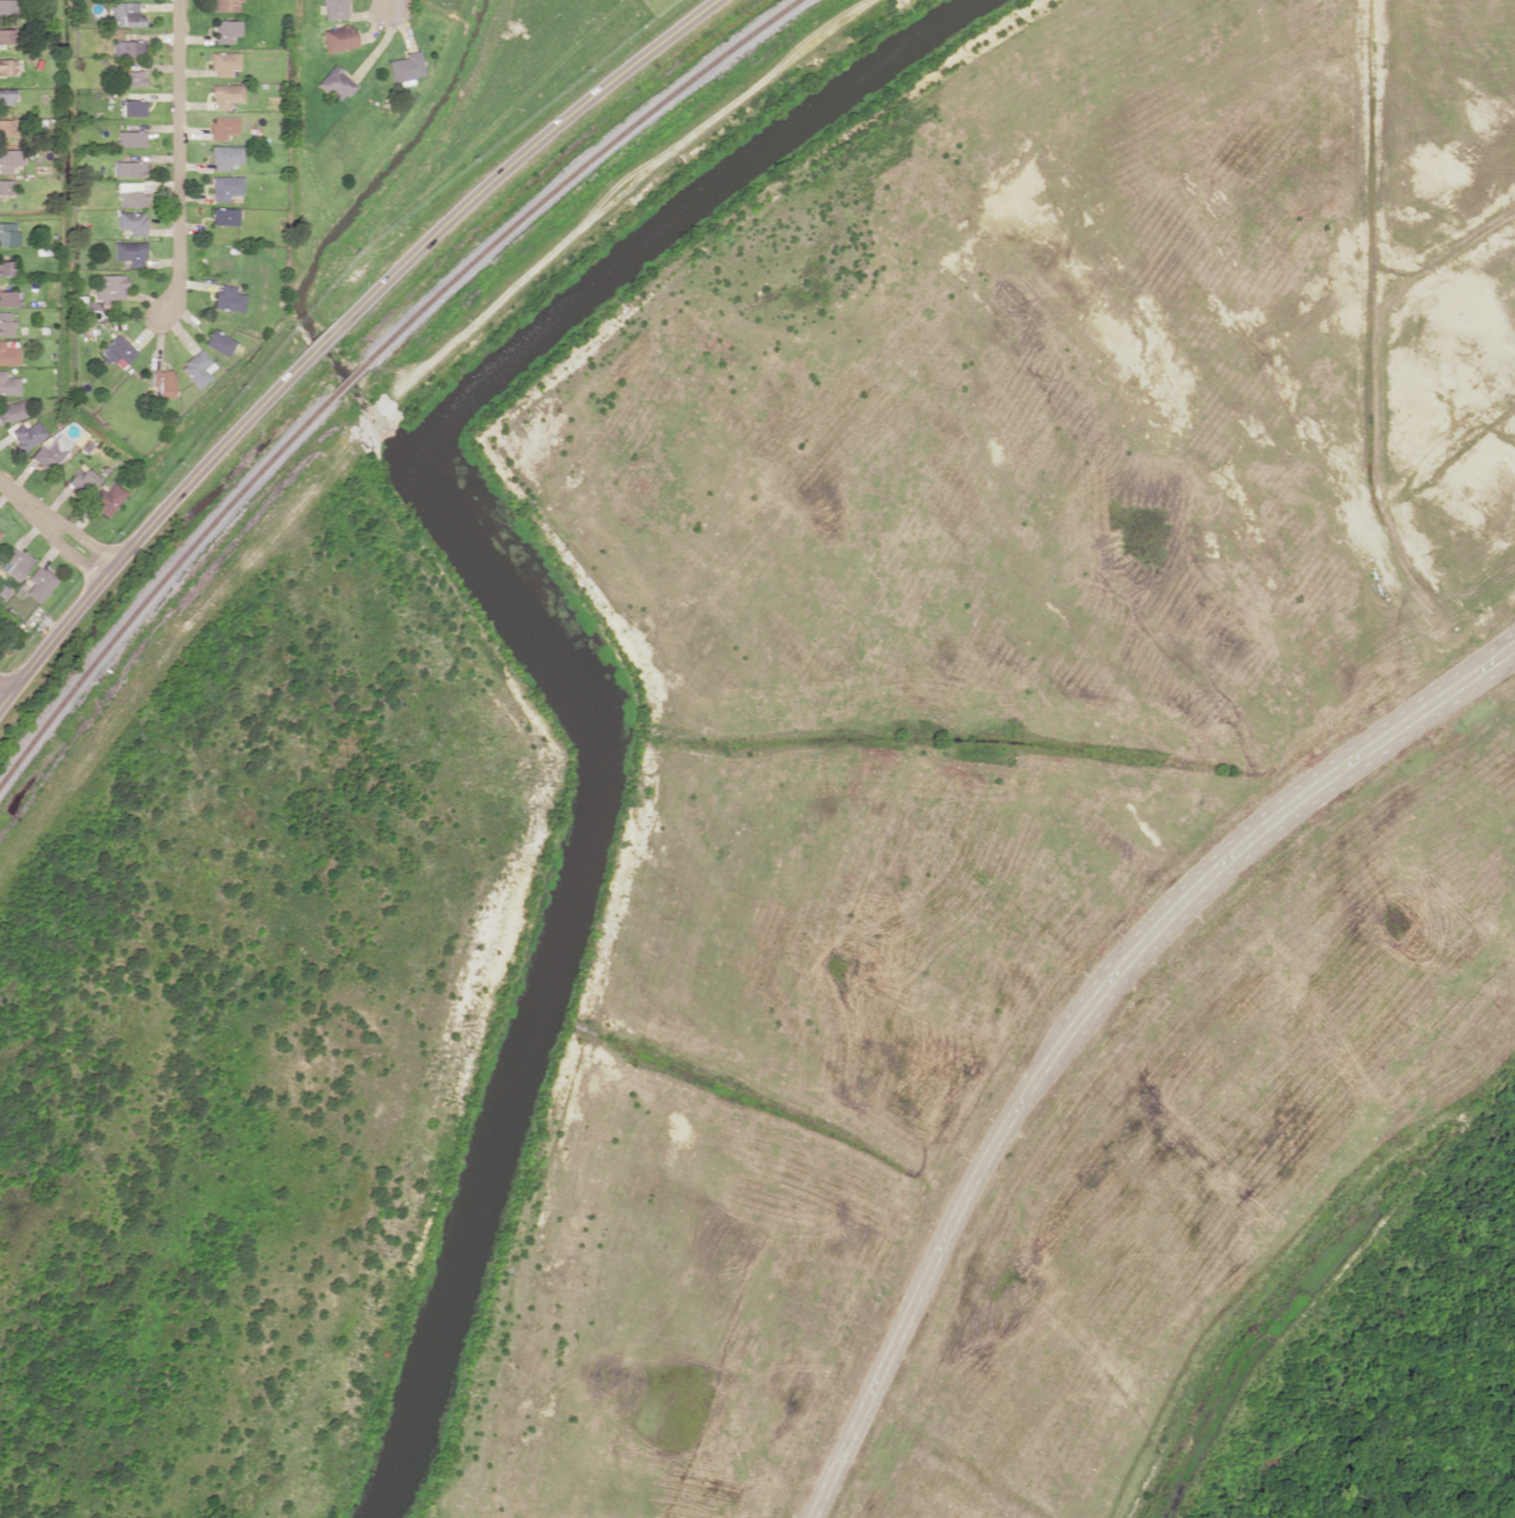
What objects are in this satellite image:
road: (391, 2)
building: (225, 5)
building: (8, 6)
building: (334, 9)
building: (126, 13)
building: (225, 30)
building: (6, 35)
building: (337, 37)
building: (129, 47)
building: (224, 62)
building: (8, 66)
building: (405, 66)
building: (133, 78)
building: (335, 83)
building: (226, 94)
building: (7, 96)
building: (133, 107)
building: (223, 126)
building: (7, 127)
building: (131, 138)
building: (225, 156)
building: (10, 159)
road: (181, 160)
building: (129, 168)
railway: (579, 172)
building: (7, 186)
building: (225, 187)
building: (131, 194)
building: (224, 216)
building: (132, 222)
building: (8, 233)
building: (130, 252)
building: (6, 267)
building: (109, 286)
building: (8, 297)
building: (228, 298)
building: (6, 324)
road: (331, 328)
building: (219, 342)
building: (118, 351)
building: (8, 354)
building: (197, 368)
railway: (350, 380)
building: (162, 382)
building: (9, 384)
building: (12, 411)
building: (27, 434)
building: (51, 452)
building: (80, 481)
building: (106, 497)
road: (53, 526)
building: (16, 563)
building: (39, 583)
railway: (156, 586)
river: (546, 628)
road: (1500, 645)
road: (1500, 656)
road: (4, 690)
road: (1068, 1026)

